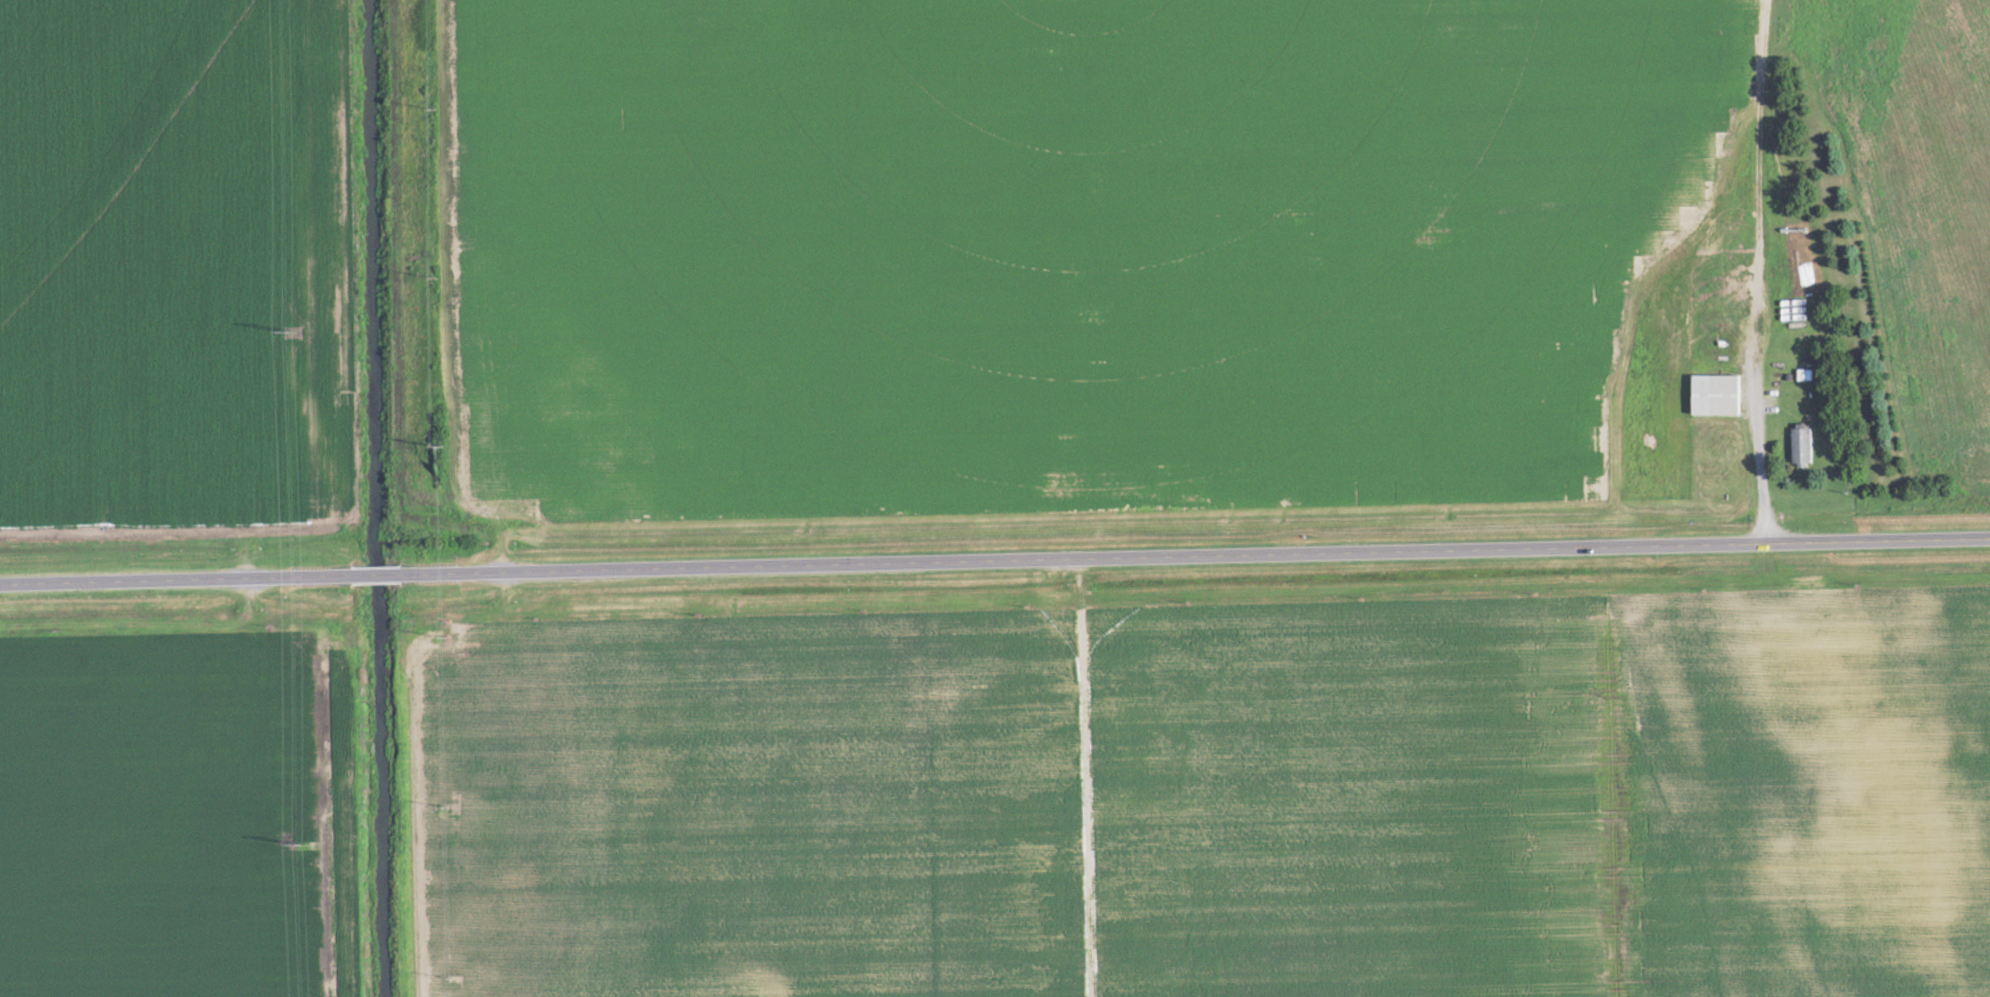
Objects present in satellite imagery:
road: (1758, 341)
building: (1716, 396)
building: (1801, 447)
road: (403, 548)
road: (995, 557)
road: (1051, 627)

